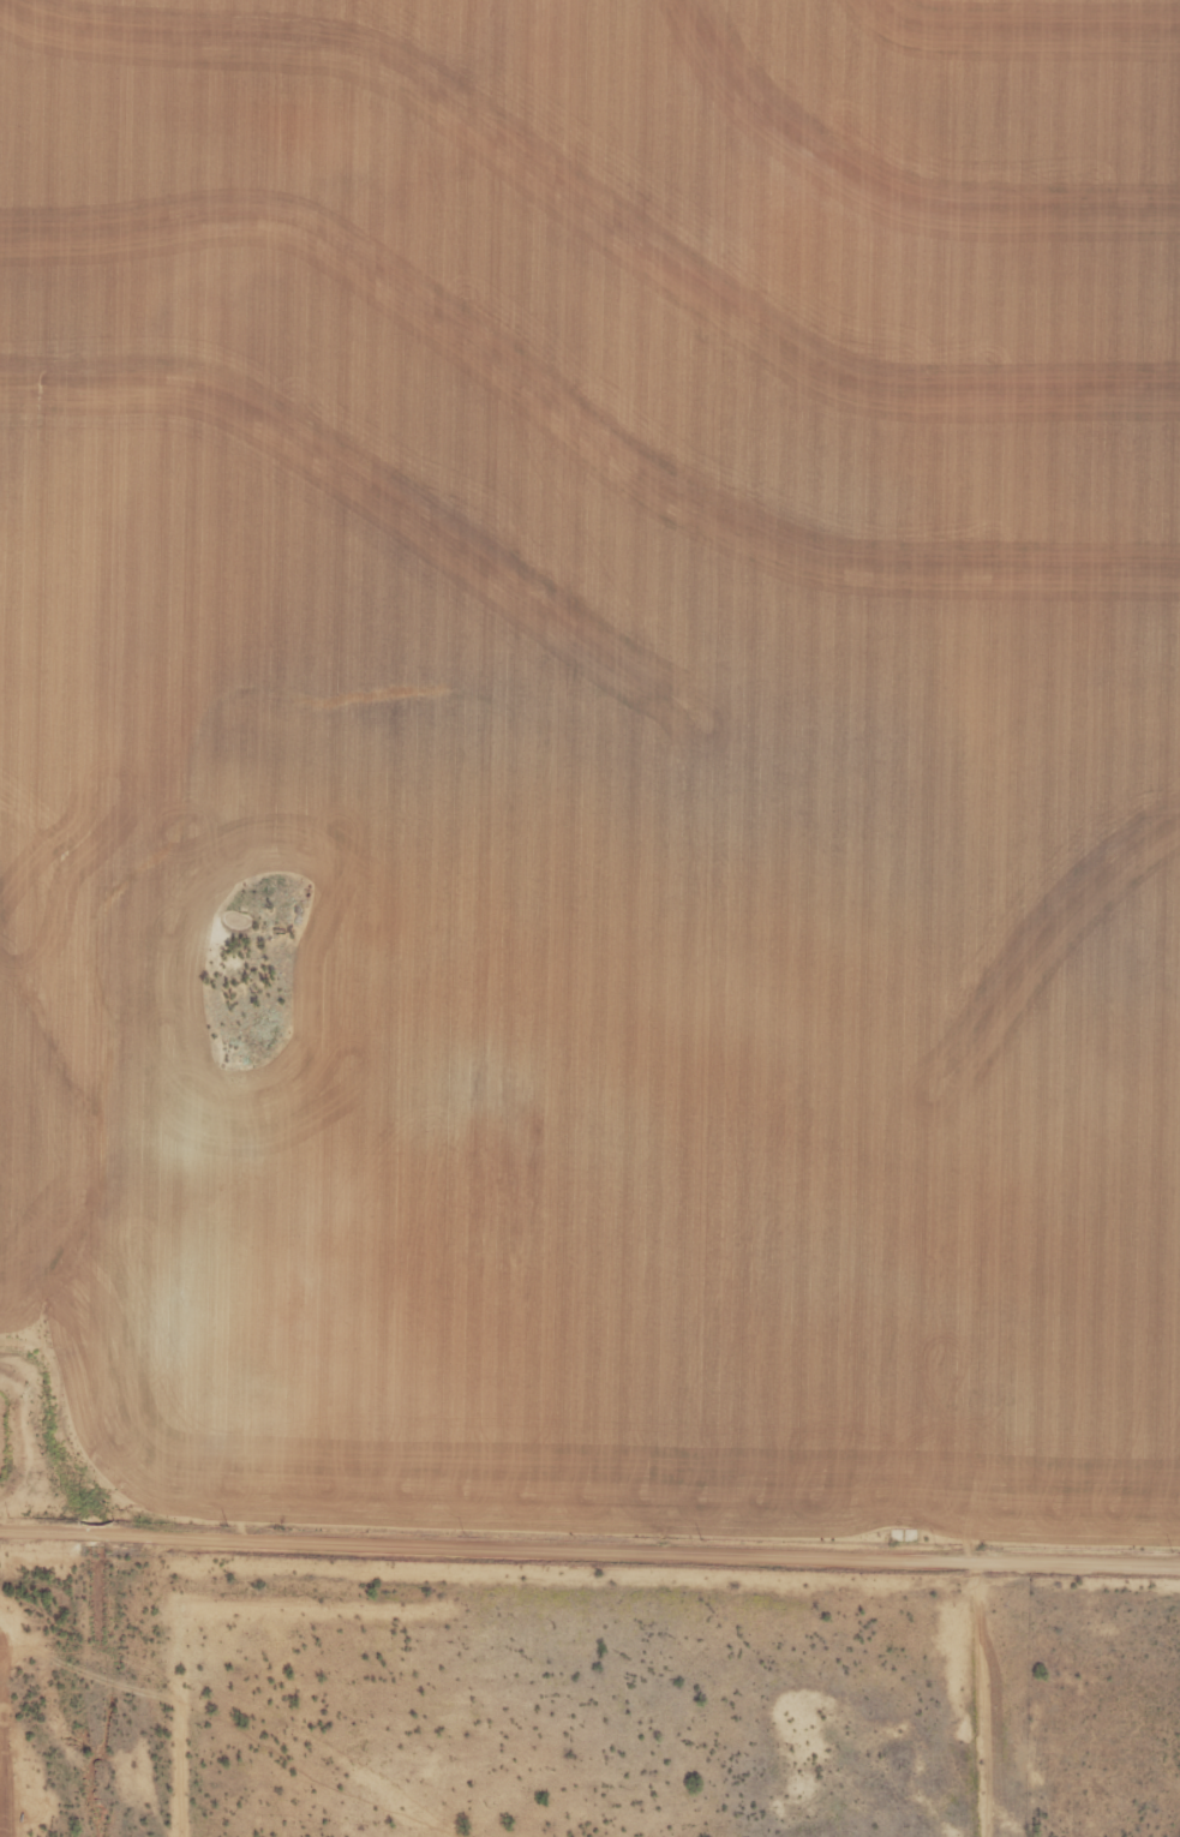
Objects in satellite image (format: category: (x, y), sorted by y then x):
road: (589, 1549)
road: (990, 1703)

